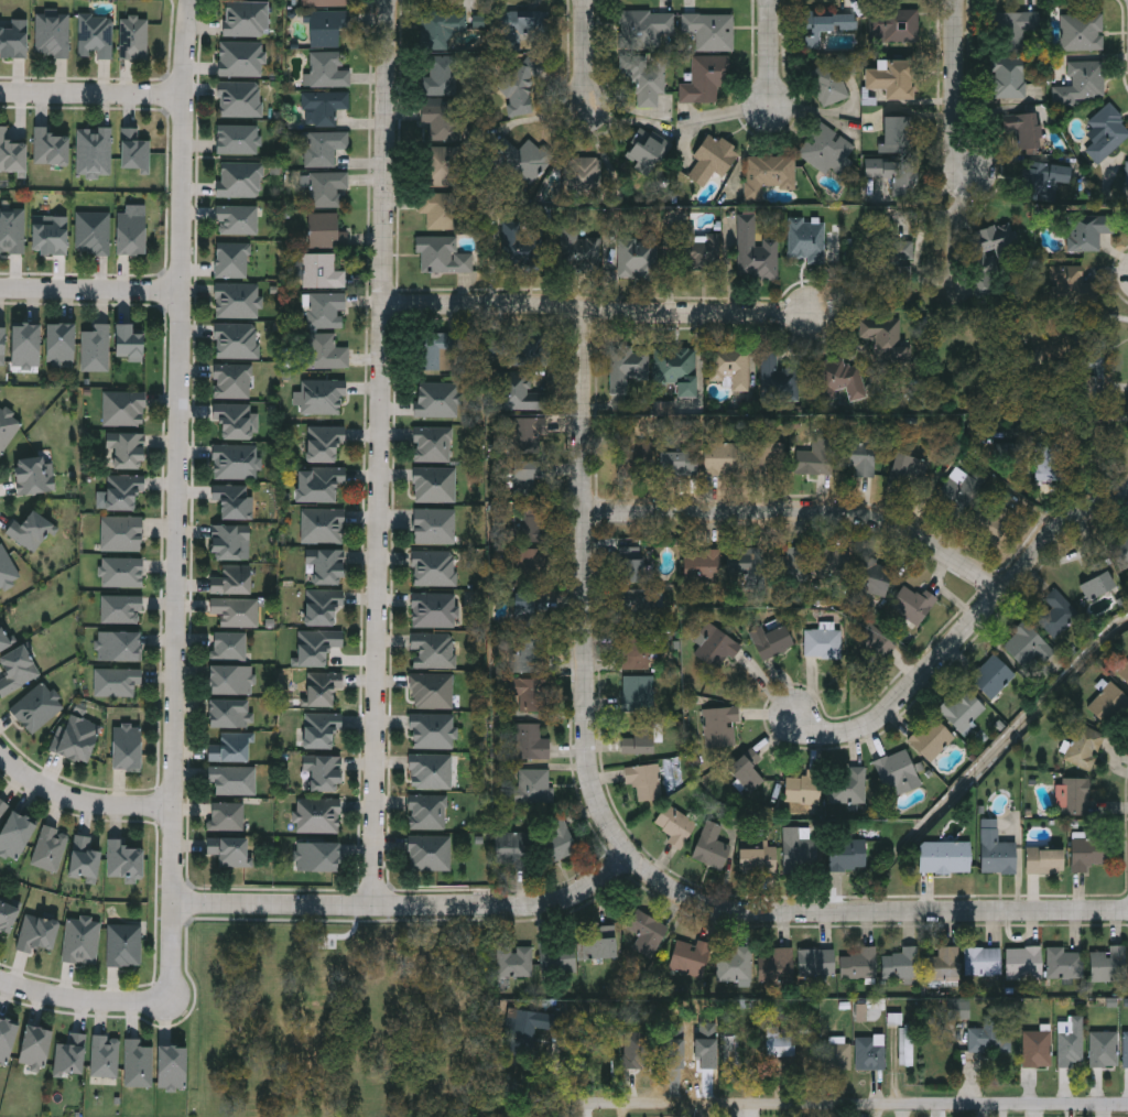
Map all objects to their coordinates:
building: (327, 3)
building: (245, 19)
building: (825, 24)
building: (893, 25)
building: (1012, 25)
building: (326, 28)
building: (524, 29)
building: (443, 30)
building: (709, 30)
building: (1082, 31)
building: (52, 35)
building: (95, 36)
building: (13, 39)
building: (132, 39)
building: (644, 51)
road: (586, 52)
road: (774, 56)
building: (240, 58)
building: (326, 71)
building: (440, 76)
building: (891, 77)
building: (1008, 77)
building: (704, 80)
building: (832, 80)
building: (1082, 82)
road: (956, 89)
building: (519, 90)
road: (90, 95)
building: (239, 99)
building: (323, 108)
building: (440, 120)
building: (1023, 128)
building: (1106, 132)
building: (898, 134)
building: (237, 140)
building: (50, 147)
building: (323, 148)
building: (825, 148)
building: (94, 150)
building: (133, 150)
building: (644, 151)
building: (11, 153)
building: (521, 159)
building: (711, 159)
building: (442, 165)
building: (1127, 170)
building: (892, 172)
building: (768, 173)
building: (583, 175)
building: (239, 180)
building: (1046, 180)
building: (327, 188)
building: (443, 210)
building: (237, 220)
building: (12, 230)
building: (323, 230)
building: (129, 231)
building: (1086, 231)
building: (94, 234)
building: (50, 236)
building: (804, 239)
building: (519, 246)
building: (990, 247)
building: (696, 248)
building: (756, 250)
building: (581, 253)
building: (442, 256)
building: (637, 258)
building: (232, 260)
building: (888, 262)
building: (322, 271)
road: (944, 276)
road: (89, 294)
building: (236, 301)
road: (604, 310)
building: (325, 311)
building: (880, 330)
building: (237, 341)
building: (1, 344)
building: (59, 344)
building: (127, 344)
building: (24, 345)
building: (523, 345)
building: (95, 348)
building: (436, 351)
building: (324, 353)
building: (729, 366)
building: (626, 367)
building: (675, 368)
building: (774, 377)
building: (842, 378)
building: (234, 381)
building: (521, 392)
building: (322, 397)
building: (436, 400)
building: (122, 409)
building: (232, 421)
building: (8, 429)
building: (527, 435)
building: (323, 443)
building: (432, 445)
building: (126, 451)
road: (382, 454)
building: (633, 454)
building: (768, 456)
building: (815, 456)
building: (859, 456)
building: (720, 458)
building: (677, 462)
building: (235, 463)
building: (1049, 463)
building: (908, 470)
building: (34, 476)
building: (523, 478)
building: (324, 484)
building: (434, 485)
building: (121, 490)
building: (958, 490)
building: (231, 501)
road: (178, 506)
road: (805, 511)
building: (528, 522)
building: (323, 525)
building: (434, 525)
building: (30, 529)
building: (121, 533)
building: (229, 541)
building: (1120, 547)
building: (630, 551)
building: (832, 561)
building: (750, 562)
building: (794, 562)
building: (530, 565)
building: (702, 565)
building: (327, 566)
building: (434, 567)
building: (7, 568)
building: (122, 572)
building: (874, 576)
building: (231, 579)
building: (1097, 585)
road: (586, 586)
building: (636, 592)
building: (913, 604)
building: (322, 605)
building: (121, 609)
building: (434, 609)
building: (236, 611)
building: (525, 611)
building: (1057, 612)
road: (968, 627)
building: (3, 640)
building: (771, 640)
building: (824, 642)
building: (1027, 644)
building: (229, 646)
building: (316, 646)
building: (715, 646)
building: (871, 646)
building: (119, 647)
building: (433, 650)
building: (637, 652)
building: (528, 653)
building: (17, 670)
building: (1124, 671)
building: (991, 676)
building: (230, 680)
building: (117, 681)
building: (322, 687)
building: (432, 691)
building: (529, 693)
building: (638, 693)
building: (1110, 704)
building: (36, 707)
building: (962, 709)
building: (228, 713)
building: (722, 726)
building: (321, 729)
building: (432, 731)
building: (639, 737)
building: (77, 738)
building: (931, 738)
building: (532, 741)
building: (1084, 746)
building: (127, 748)
building: (229, 748)
building: (747, 770)
building: (431, 771)
building: (324, 773)
building: (898, 773)
building: (232, 780)
building: (644, 780)
building: (849, 785)
building: (532, 787)
building: (803, 788)
building: (1074, 796)
road: (80, 799)
building: (3, 807)
building: (429, 812)
building: (318, 815)
building: (226, 816)
building: (675, 823)
building: (14, 835)
building: (557, 839)
building: (511, 845)
building: (712, 846)
building: (50, 849)
building: (996, 849)
building: (799, 852)
building: (228, 853)
building: (1089, 853)
building: (430, 854)
building: (847, 855)
building: (945, 857)
building: (83, 858)
building: (318, 858)
building: (758, 858)
building: (123, 860)
building: (1044, 860)
road: (413, 907)
road: (871, 912)
building: (7, 917)
building: (646, 928)
building: (40, 933)
building: (82, 940)
building: (600, 943)
building: (124, 944)
building: (557, 956)
building: (687, 957)
building: (514, 961)
building: (983, 961)
building: (816, 962)
building: (859, 962)
building: (901, 962)
building: (1023, 962)
building: (1064, 963)
building: (737, 964)
building: (942, 964)
building: (1108, 964)
building: (777, 965)
road: (77, 995)
building: (521, 1031)
building: (990, 1035)
building: (7, 1040)
building: (1072, 1041)
building: (779, 1042)
building: (907, 1044)
building: (33, 1046)
building: (1037, 1046)
building: (1104, 1048)
building: (1126, 1048)
building: (637, 1049)
building: (870, 1051)
building: (69, 1055)
building: (837, 1055)
building: (104, 1056)
building: (730, 1056)
building: (137, 1064)
building: (169, 1067)
road: (859, 1104)

